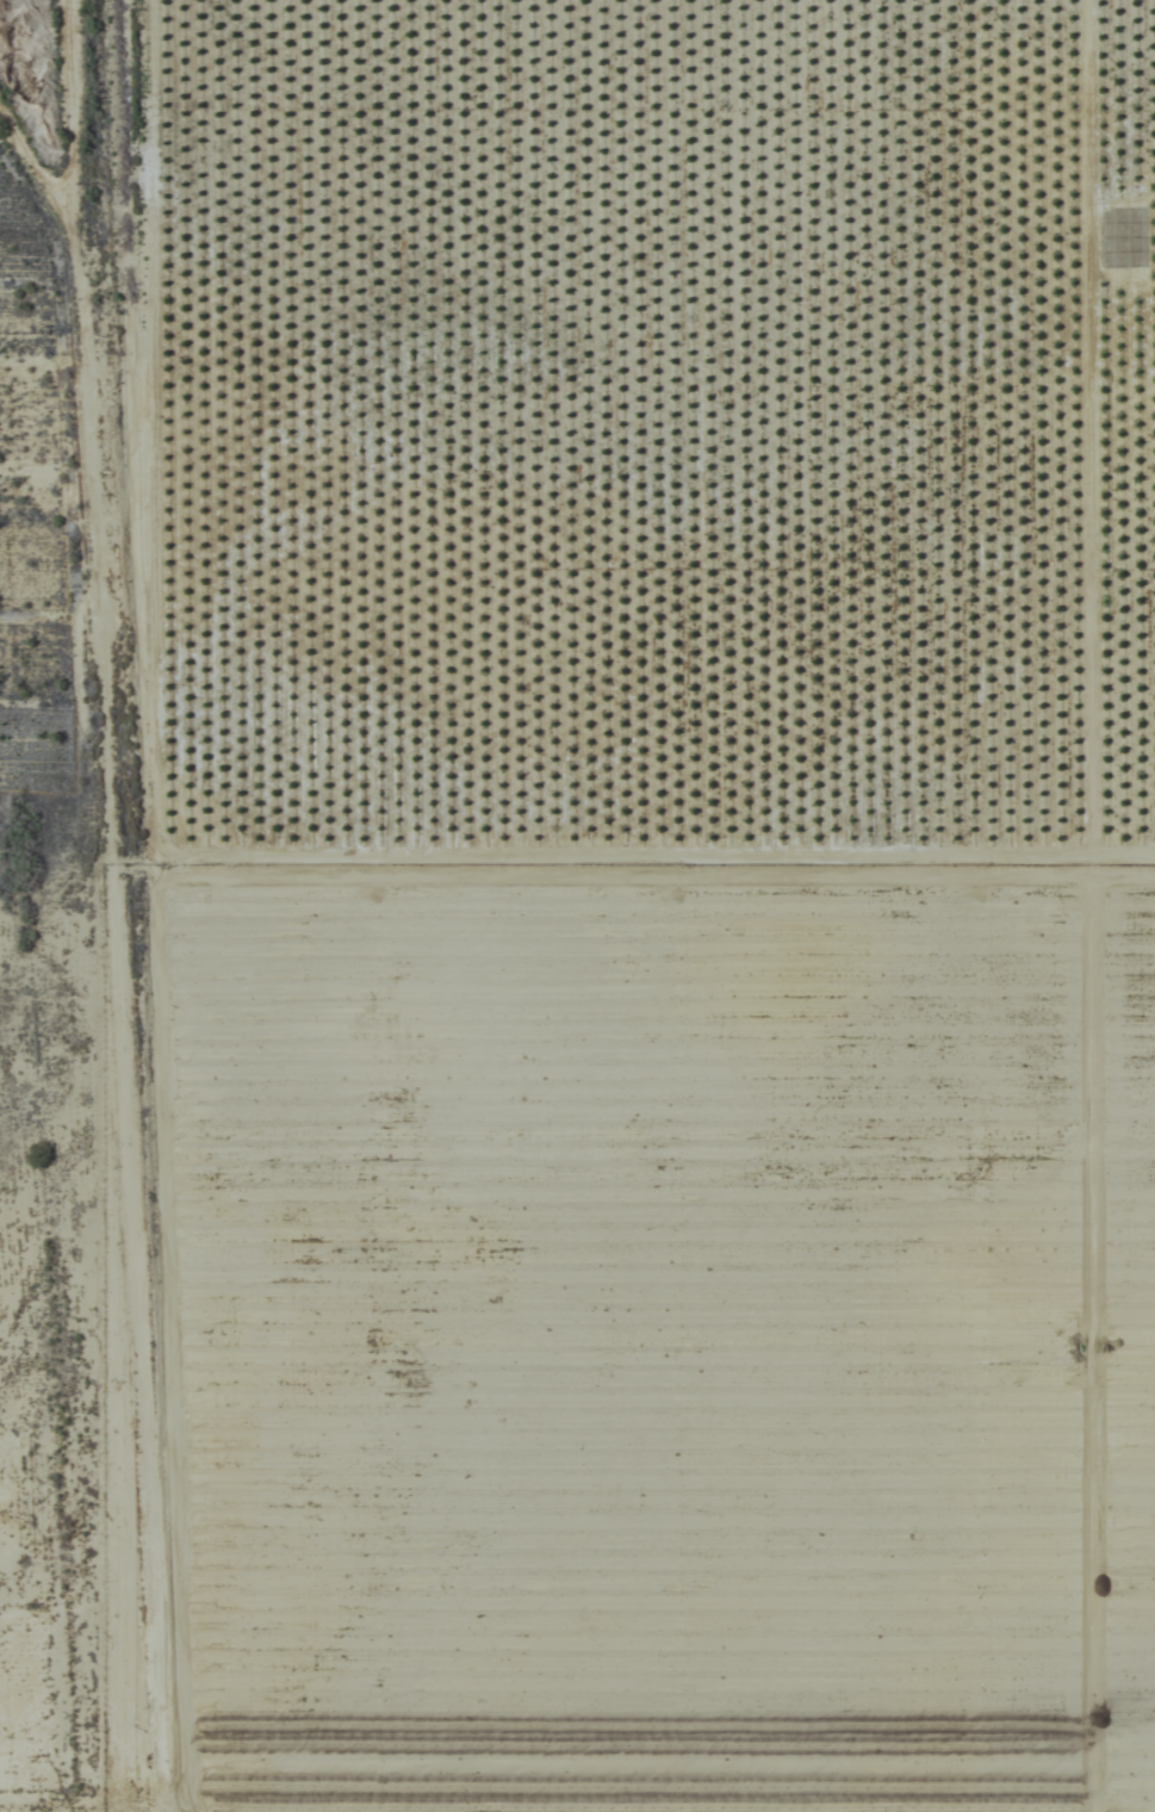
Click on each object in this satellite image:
building: (1119, 226)

